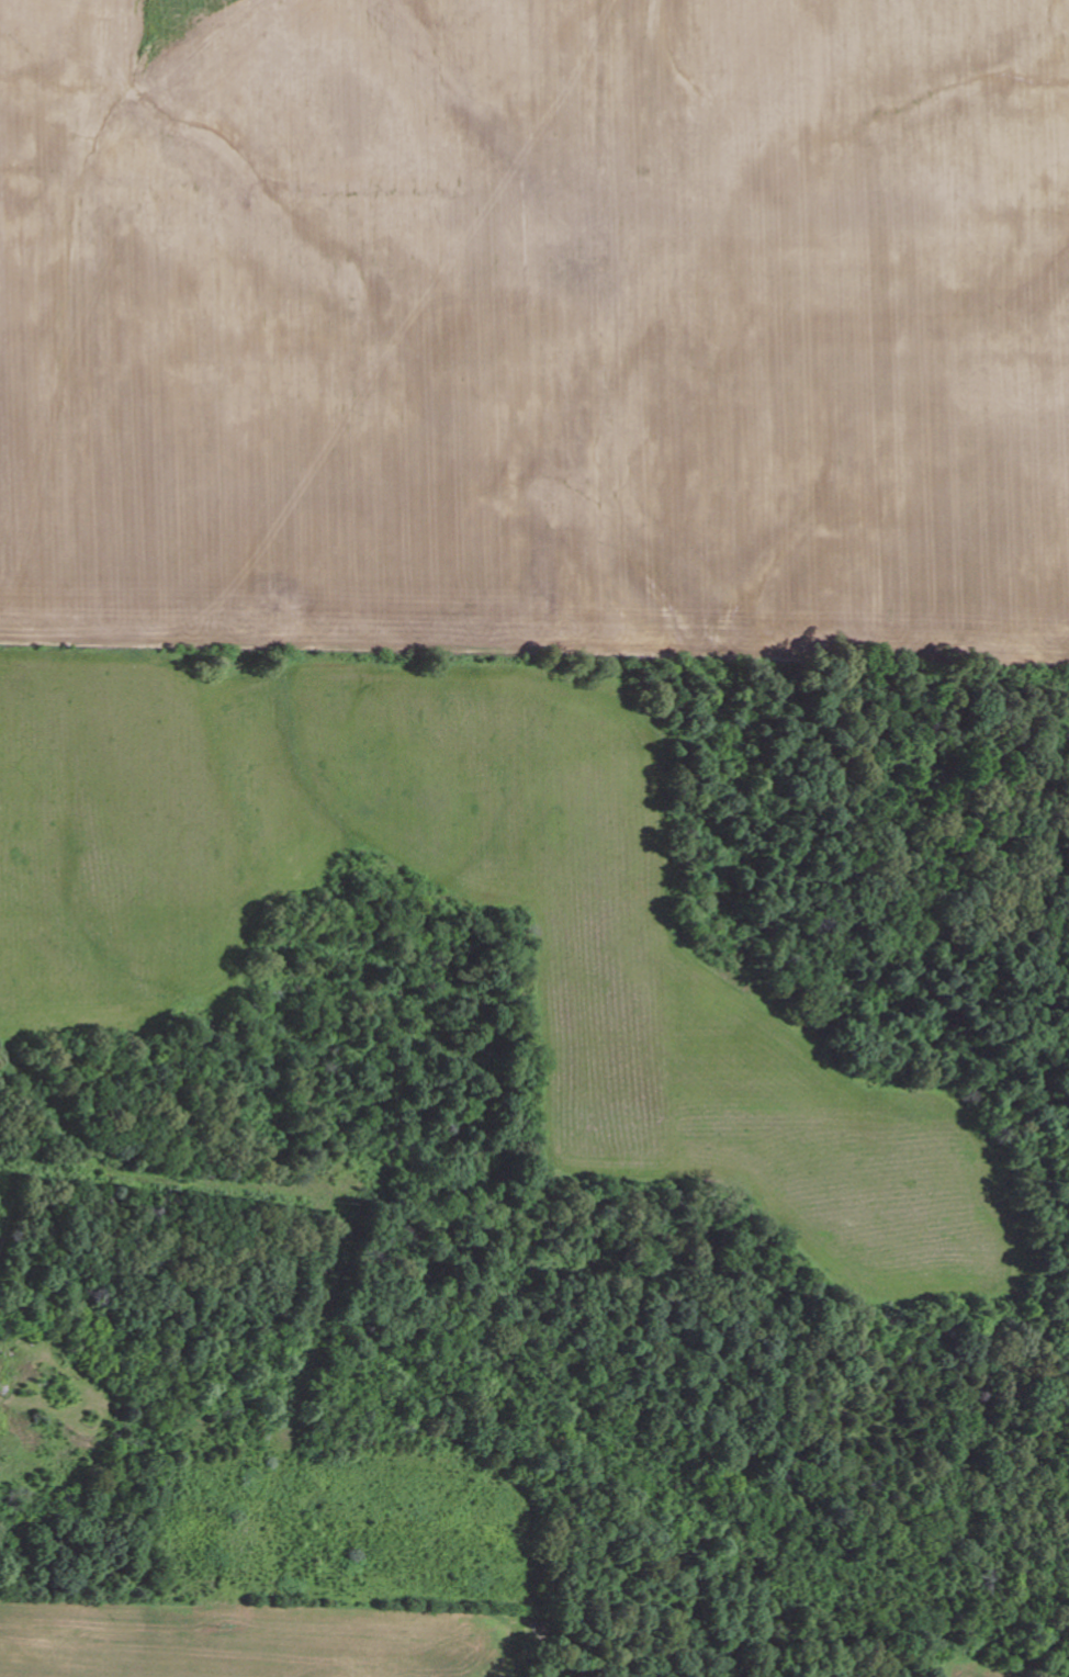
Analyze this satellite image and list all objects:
road: (597, 54)

